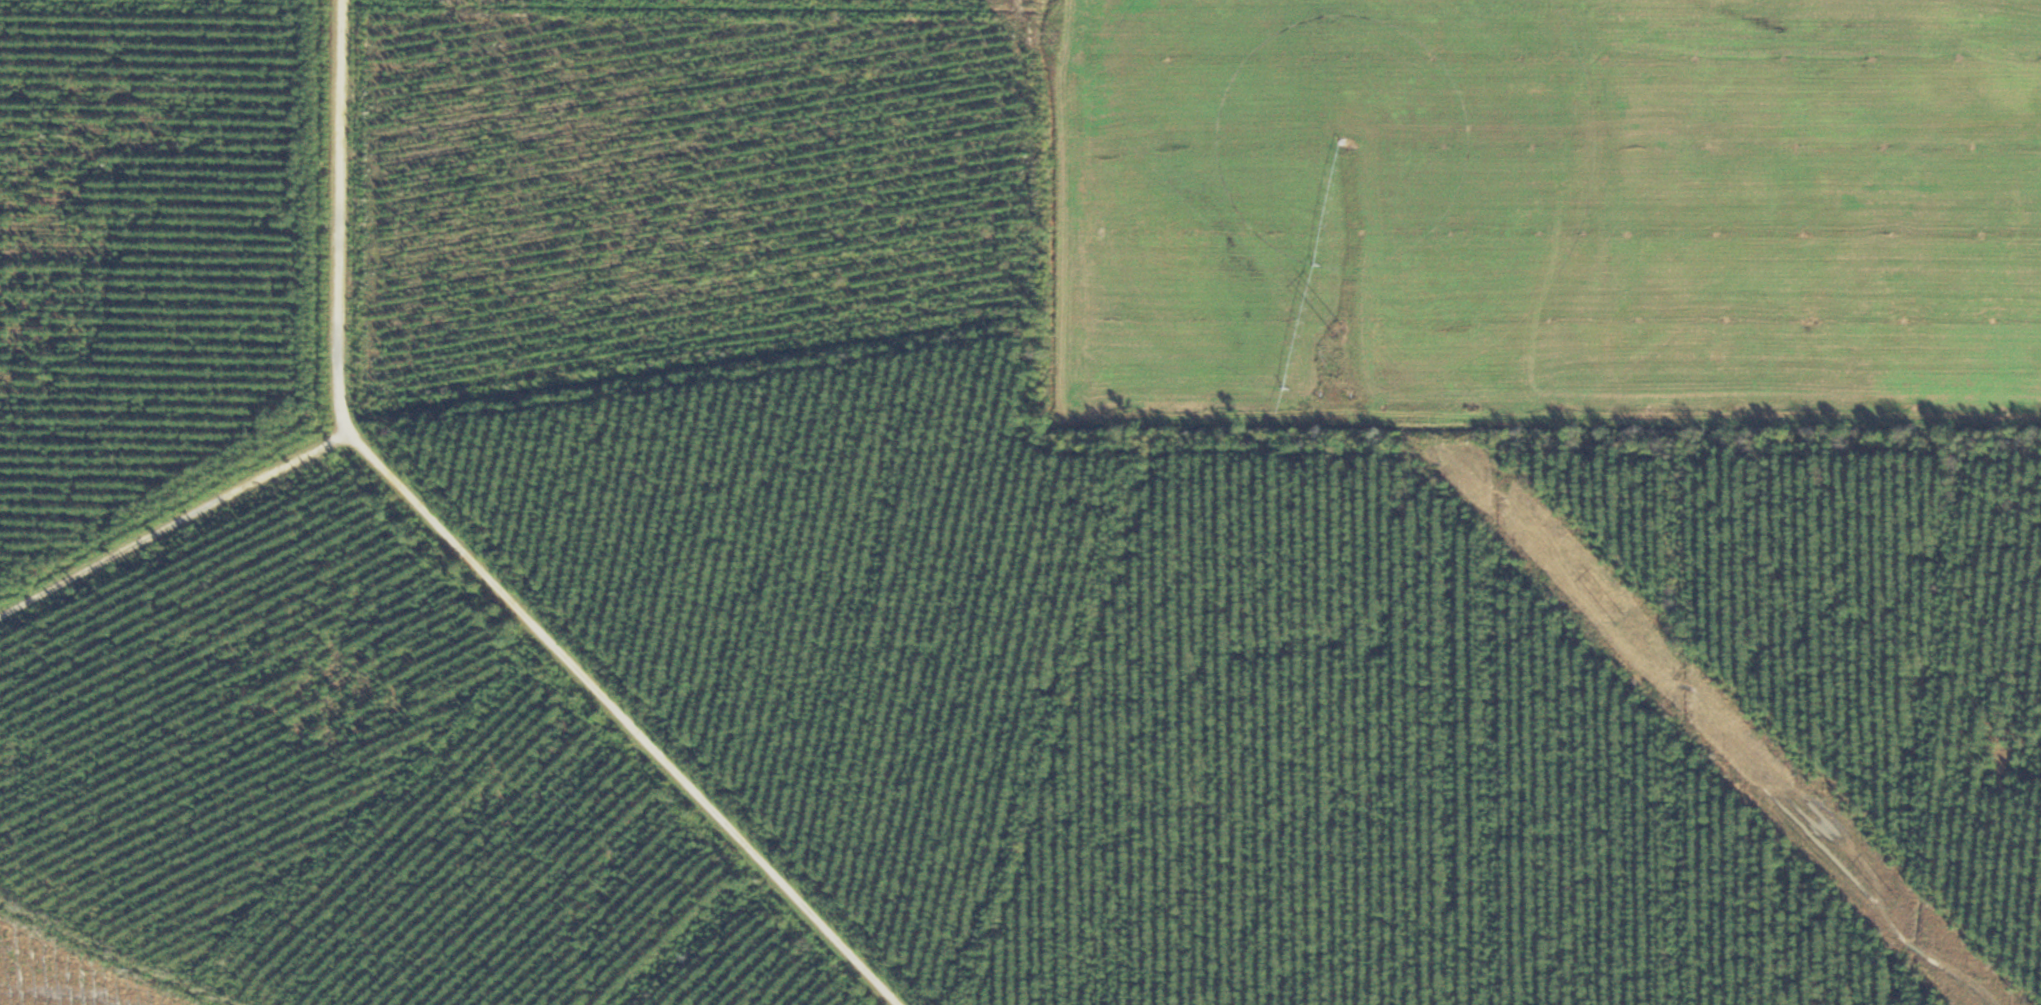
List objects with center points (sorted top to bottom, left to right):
power tower: (1056, 38)
road: (1834, 200)
power tower: (1342, 330)
road: (593, 552)
power tower: (1619, 618)
power tower: (1893, 902)

